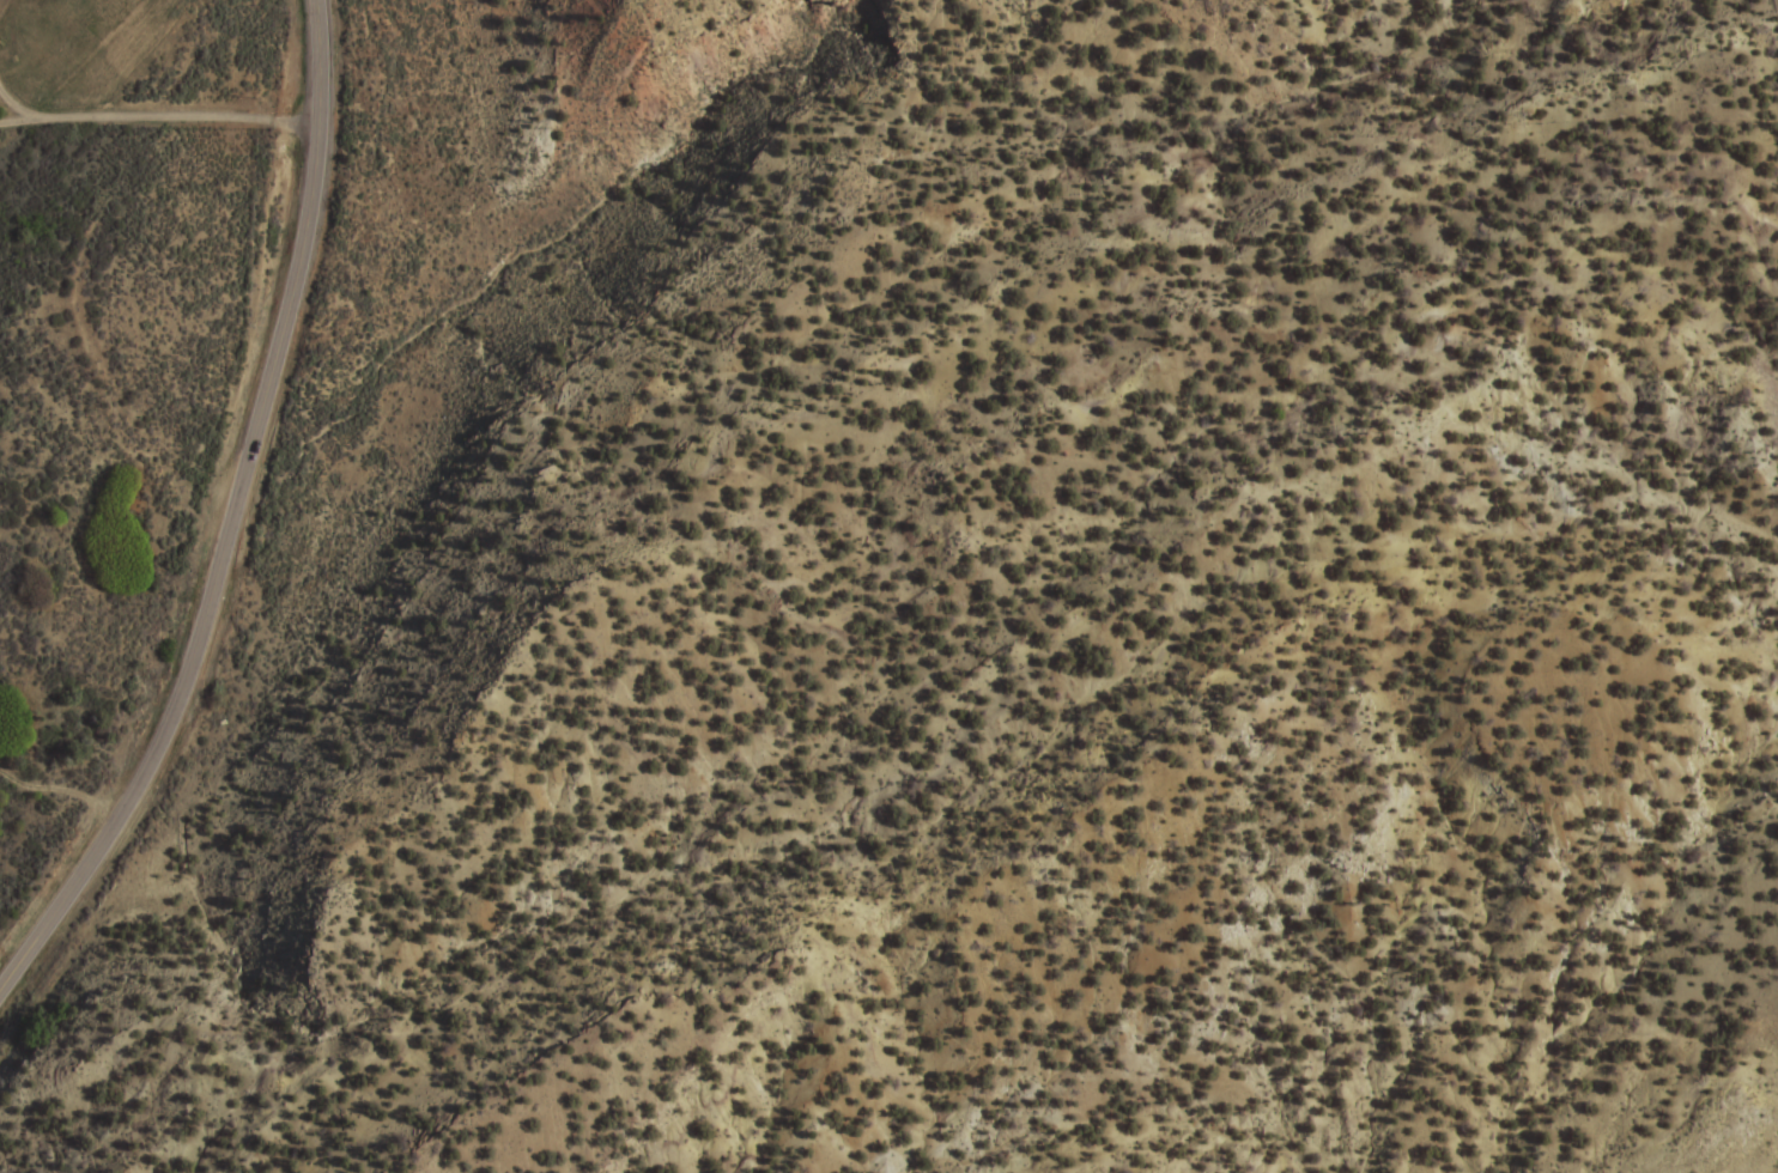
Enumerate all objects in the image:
road: (497, 236)
road: (235, 519)

